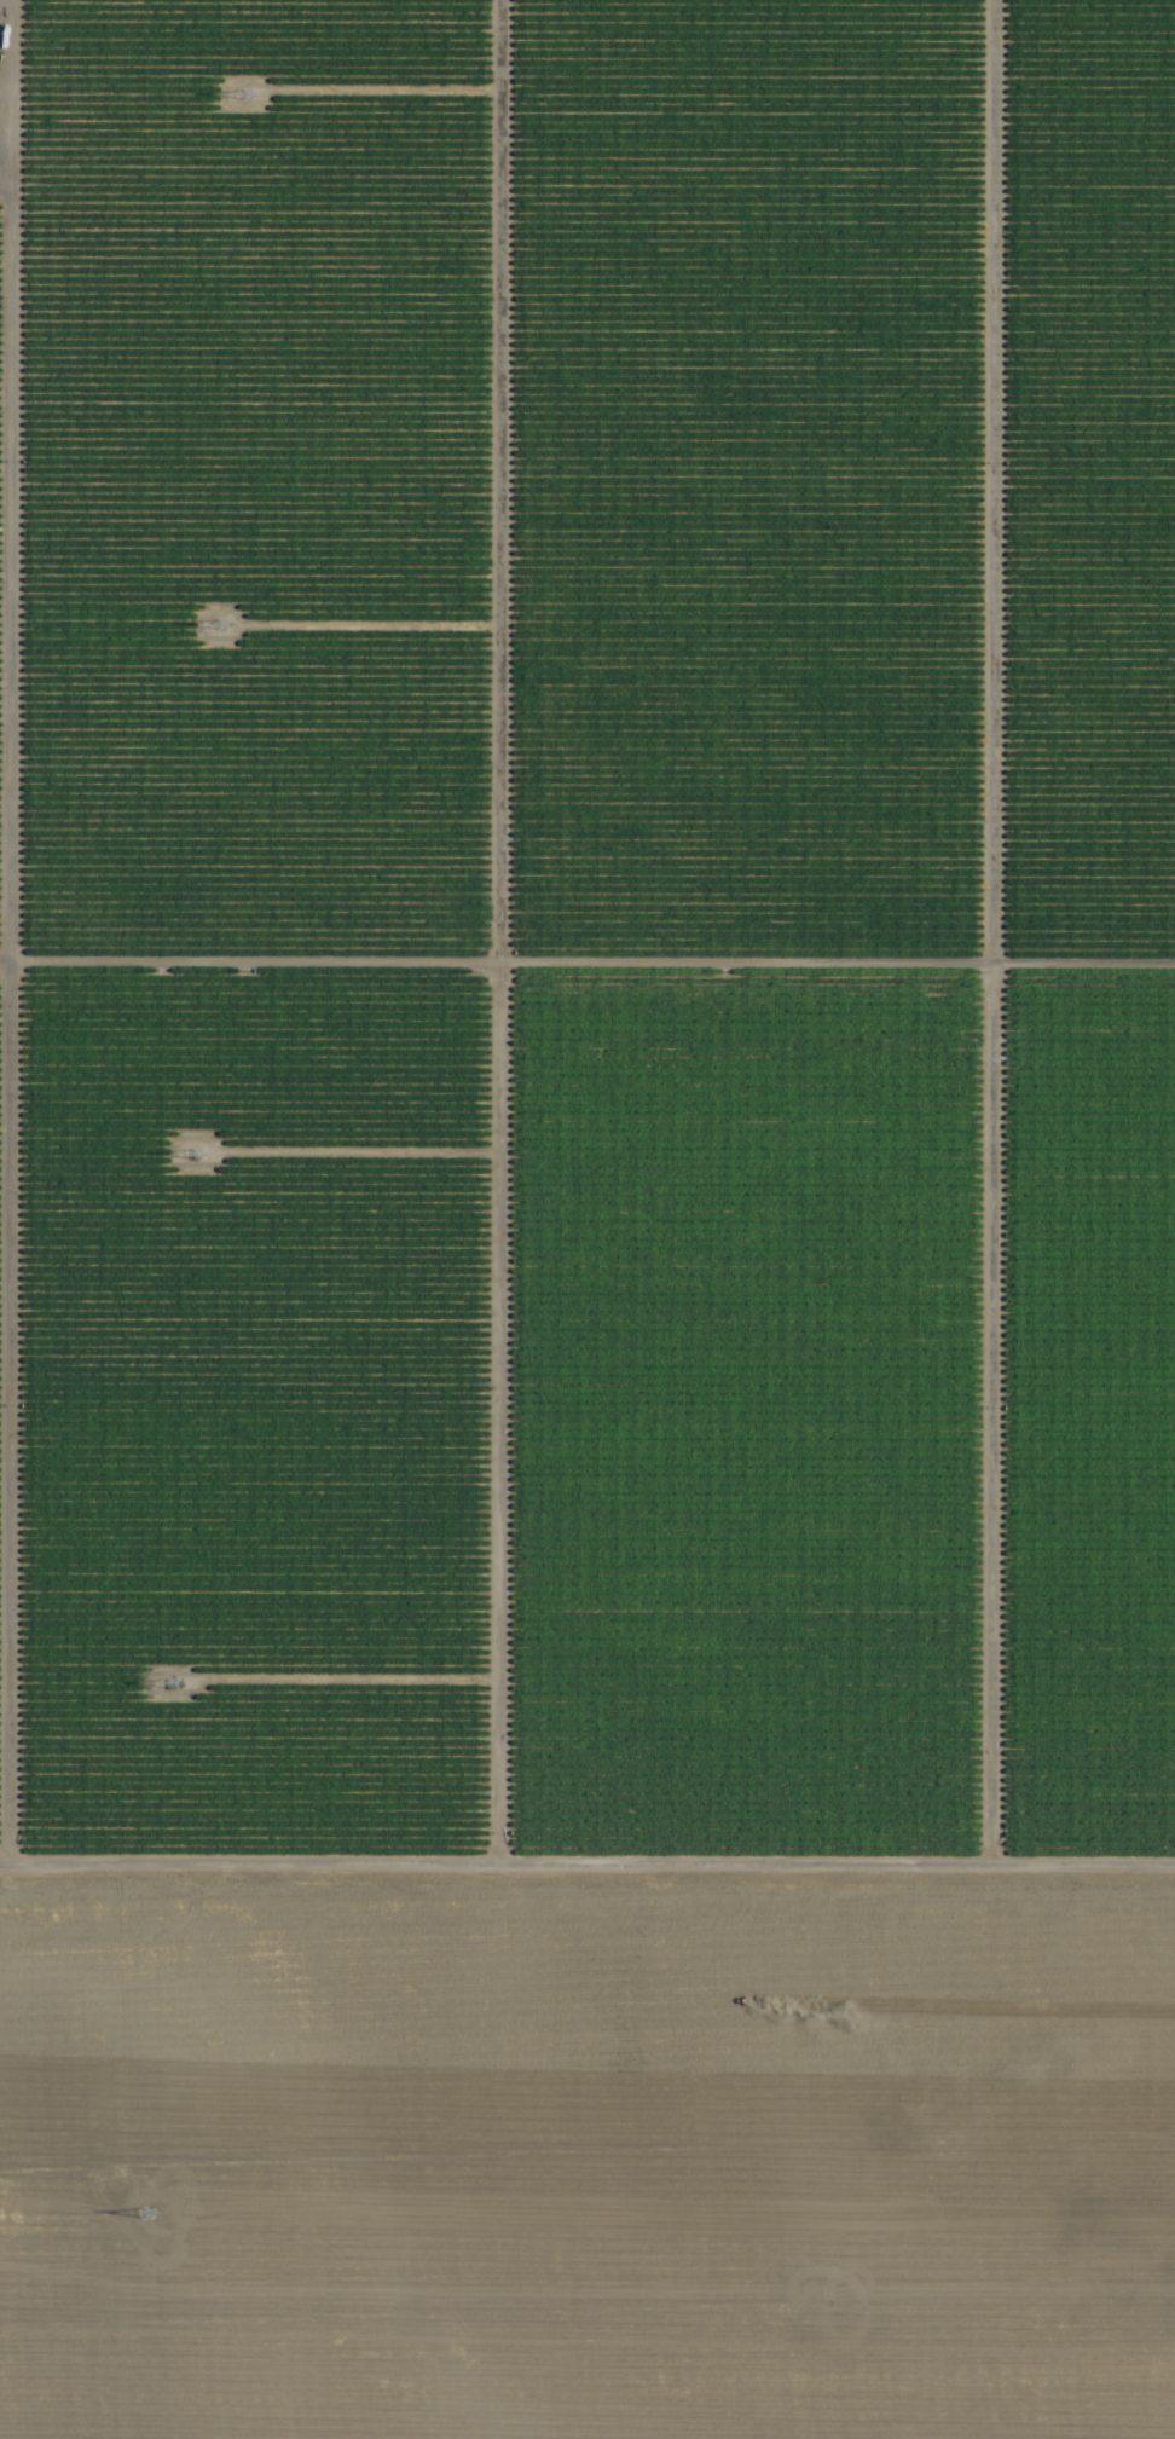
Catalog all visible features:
power tower: (249, 97)
power tower: (222, 625)
road: (587, 999)
power tower: (198, 1161)
crop: (587, 1219)
power tower: (175, 1683)
power tower: (149, 2217)

